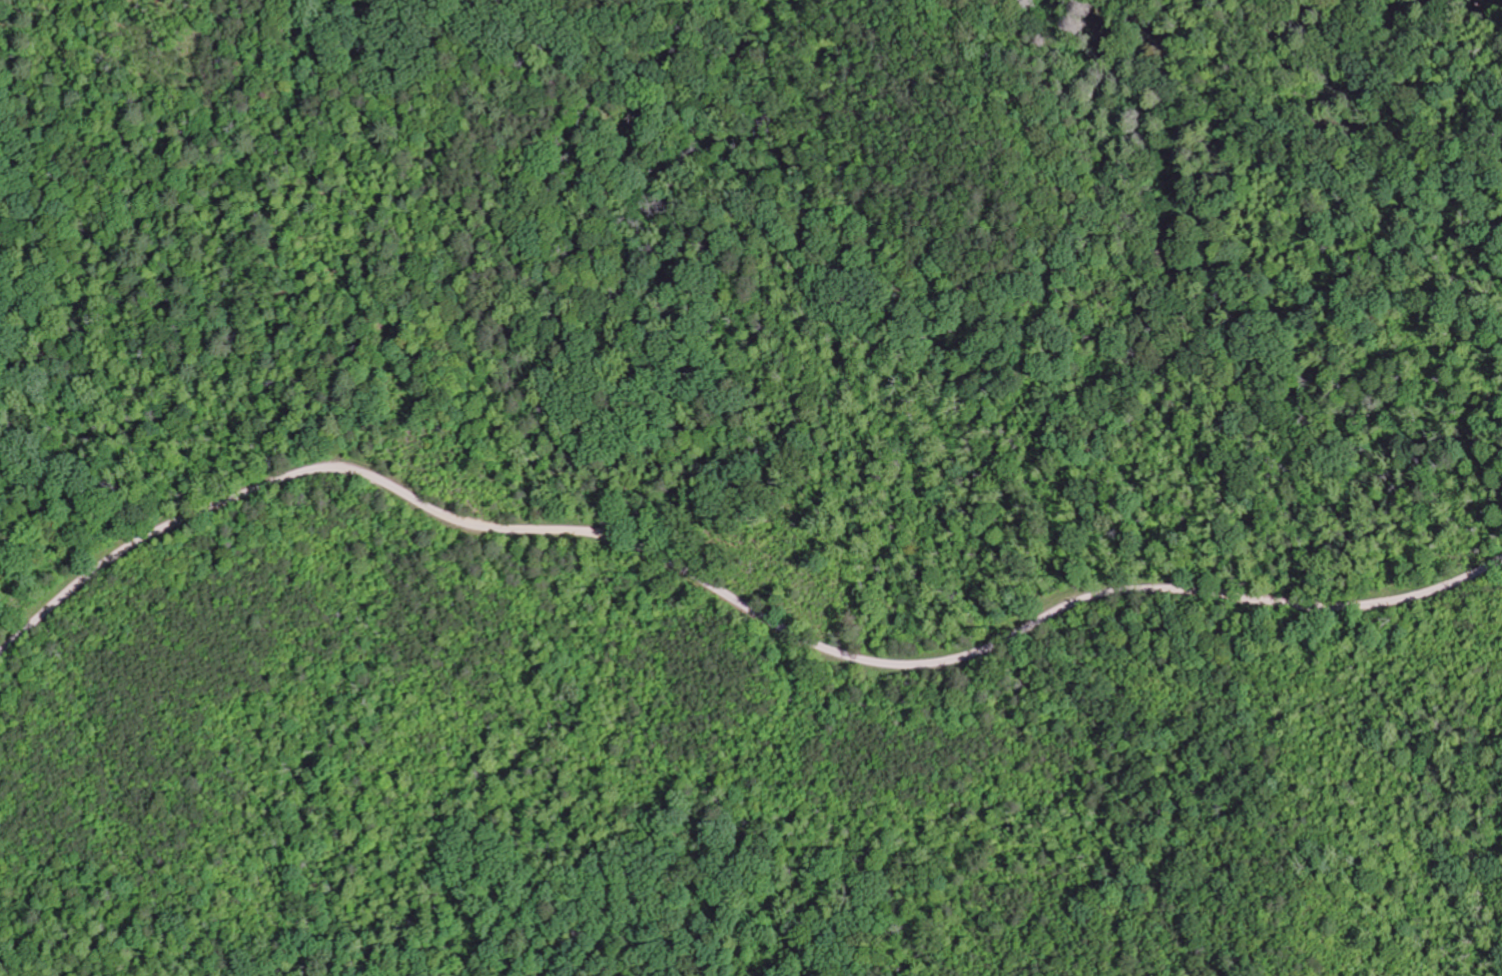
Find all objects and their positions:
road: (730, 597)
road: (1123, 784)

